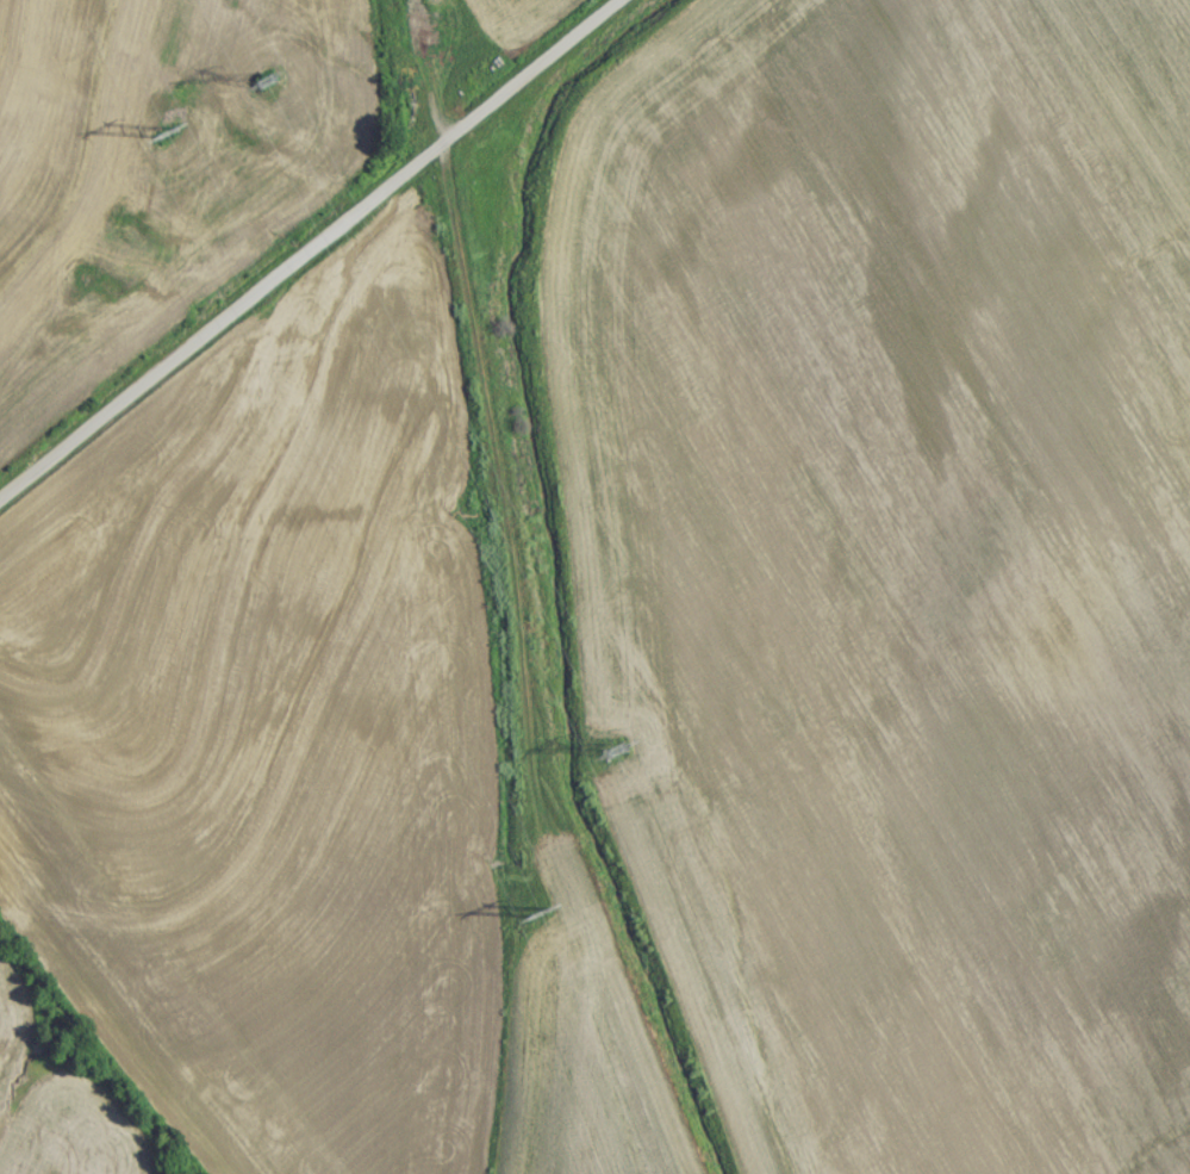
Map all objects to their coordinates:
power tower: (263, 89)
power tower: (161, 141)
road: (294, 234)
power tower: (608, 758)
power tower: (536, 923)

